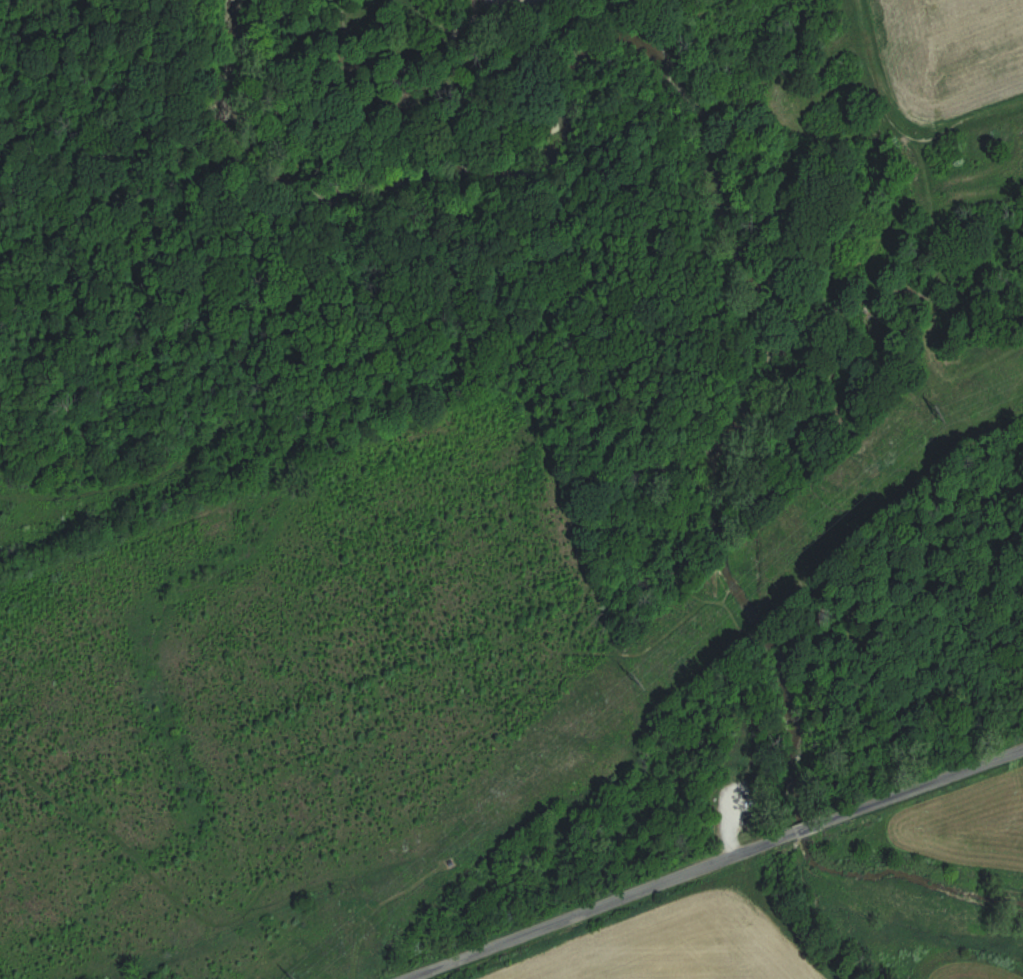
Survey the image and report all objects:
road: (684, 189)
road: (248, 219)
road: (552, 283)
road: (272, 428)
road: (598, 460)
park: (369, 517)
road: (612, 579)
road: (644, 655)
road: (743, 663)
road: (913, 787)
parking lot: (733, 812)
road: (727, 824)
road: (794, 831)
road: (274, 870)
road: (594, 906)

